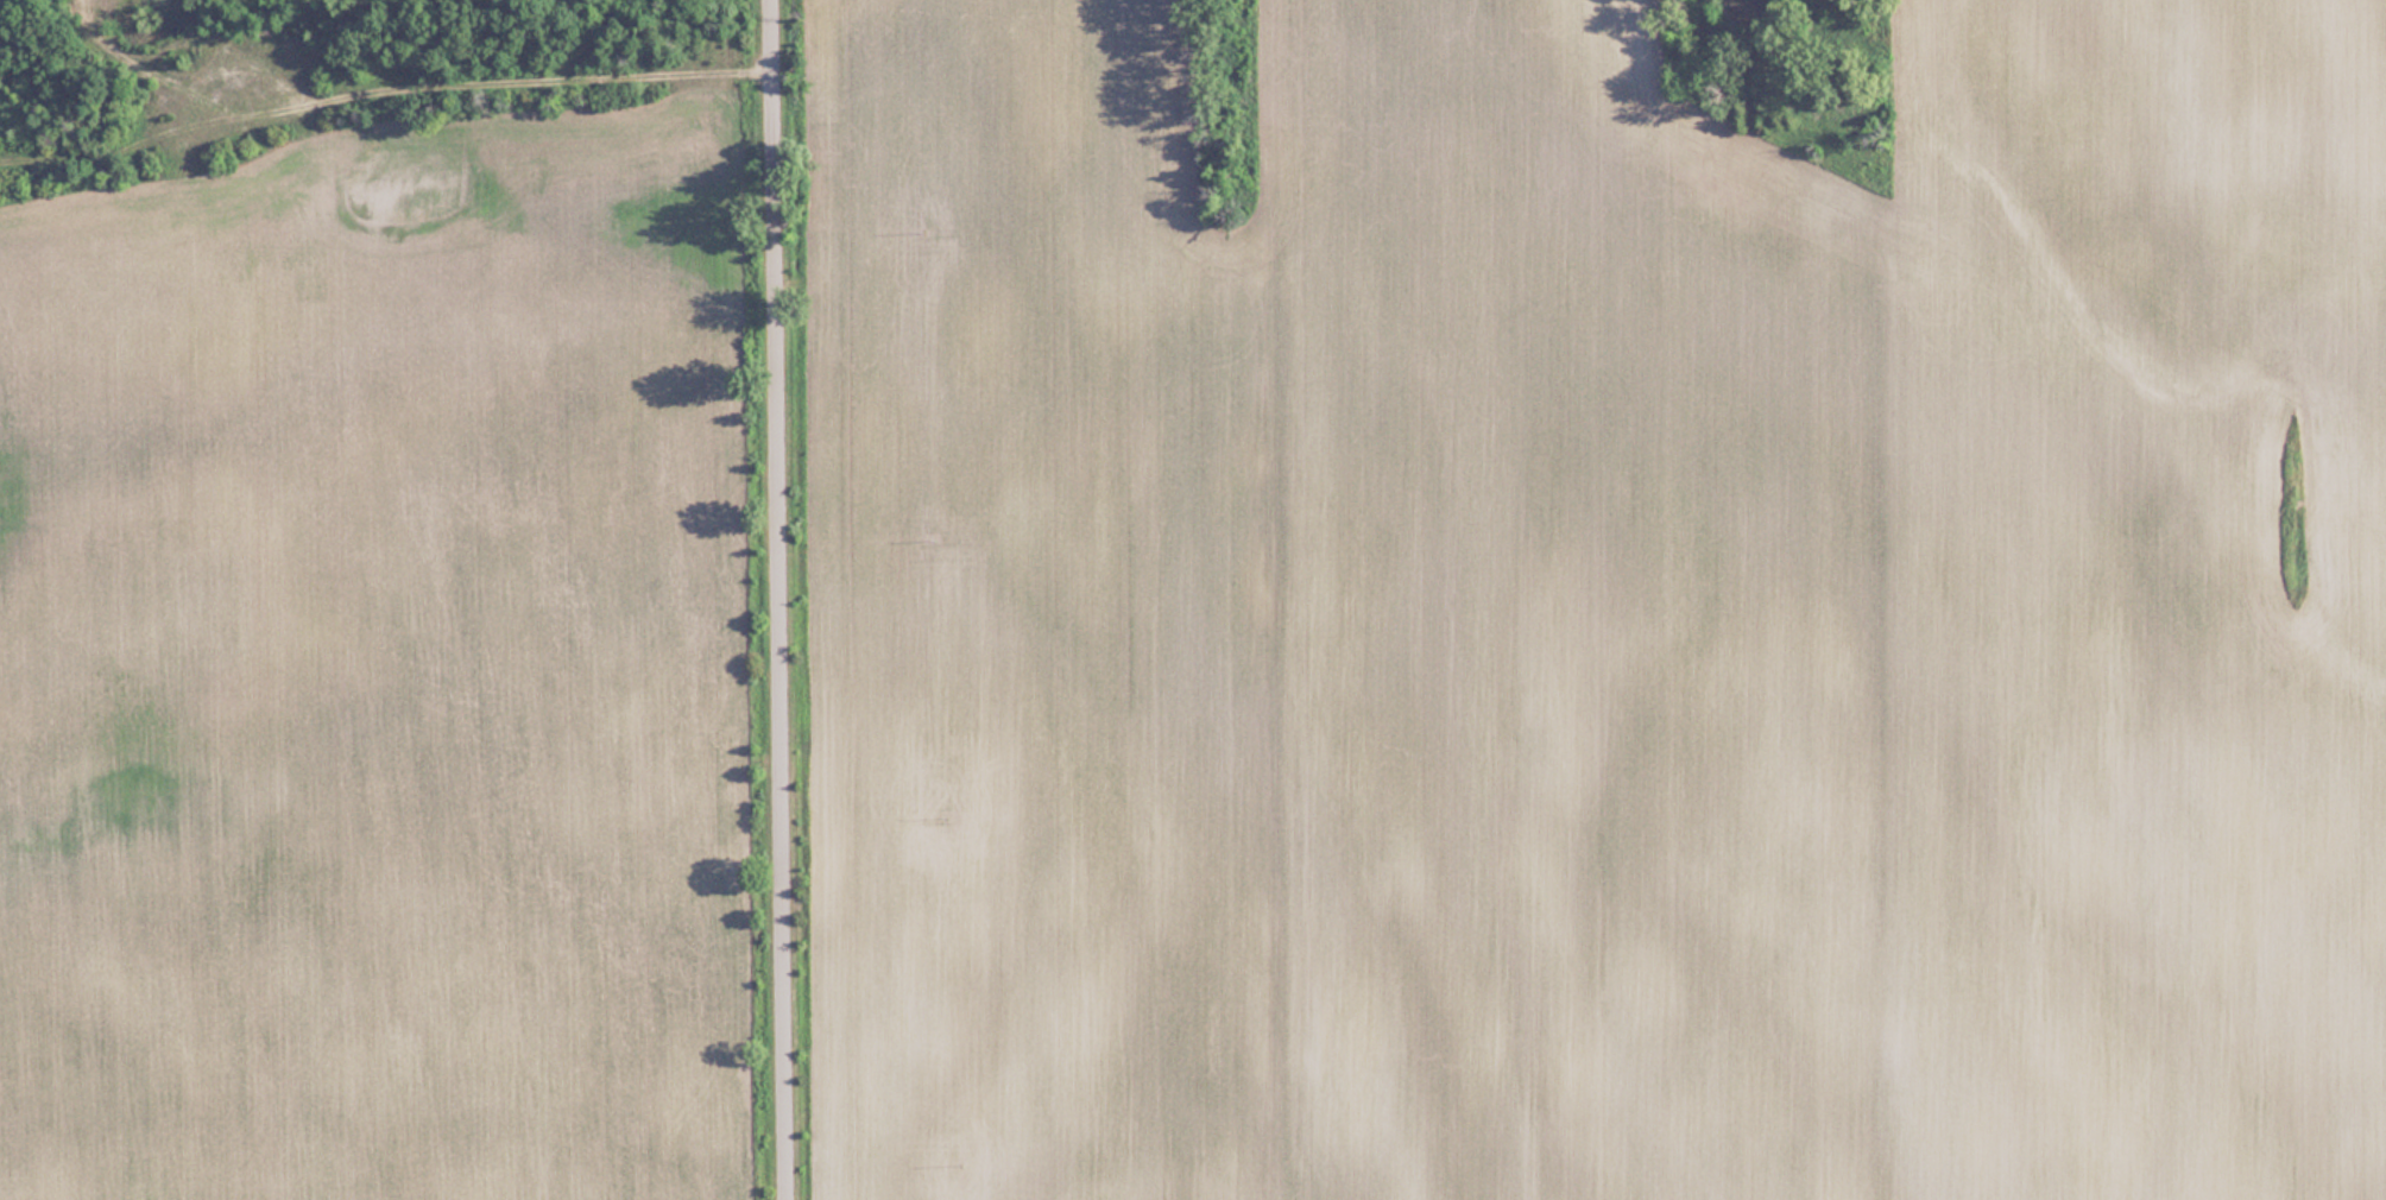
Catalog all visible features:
road: (327, 120)
road: (782, 600)

